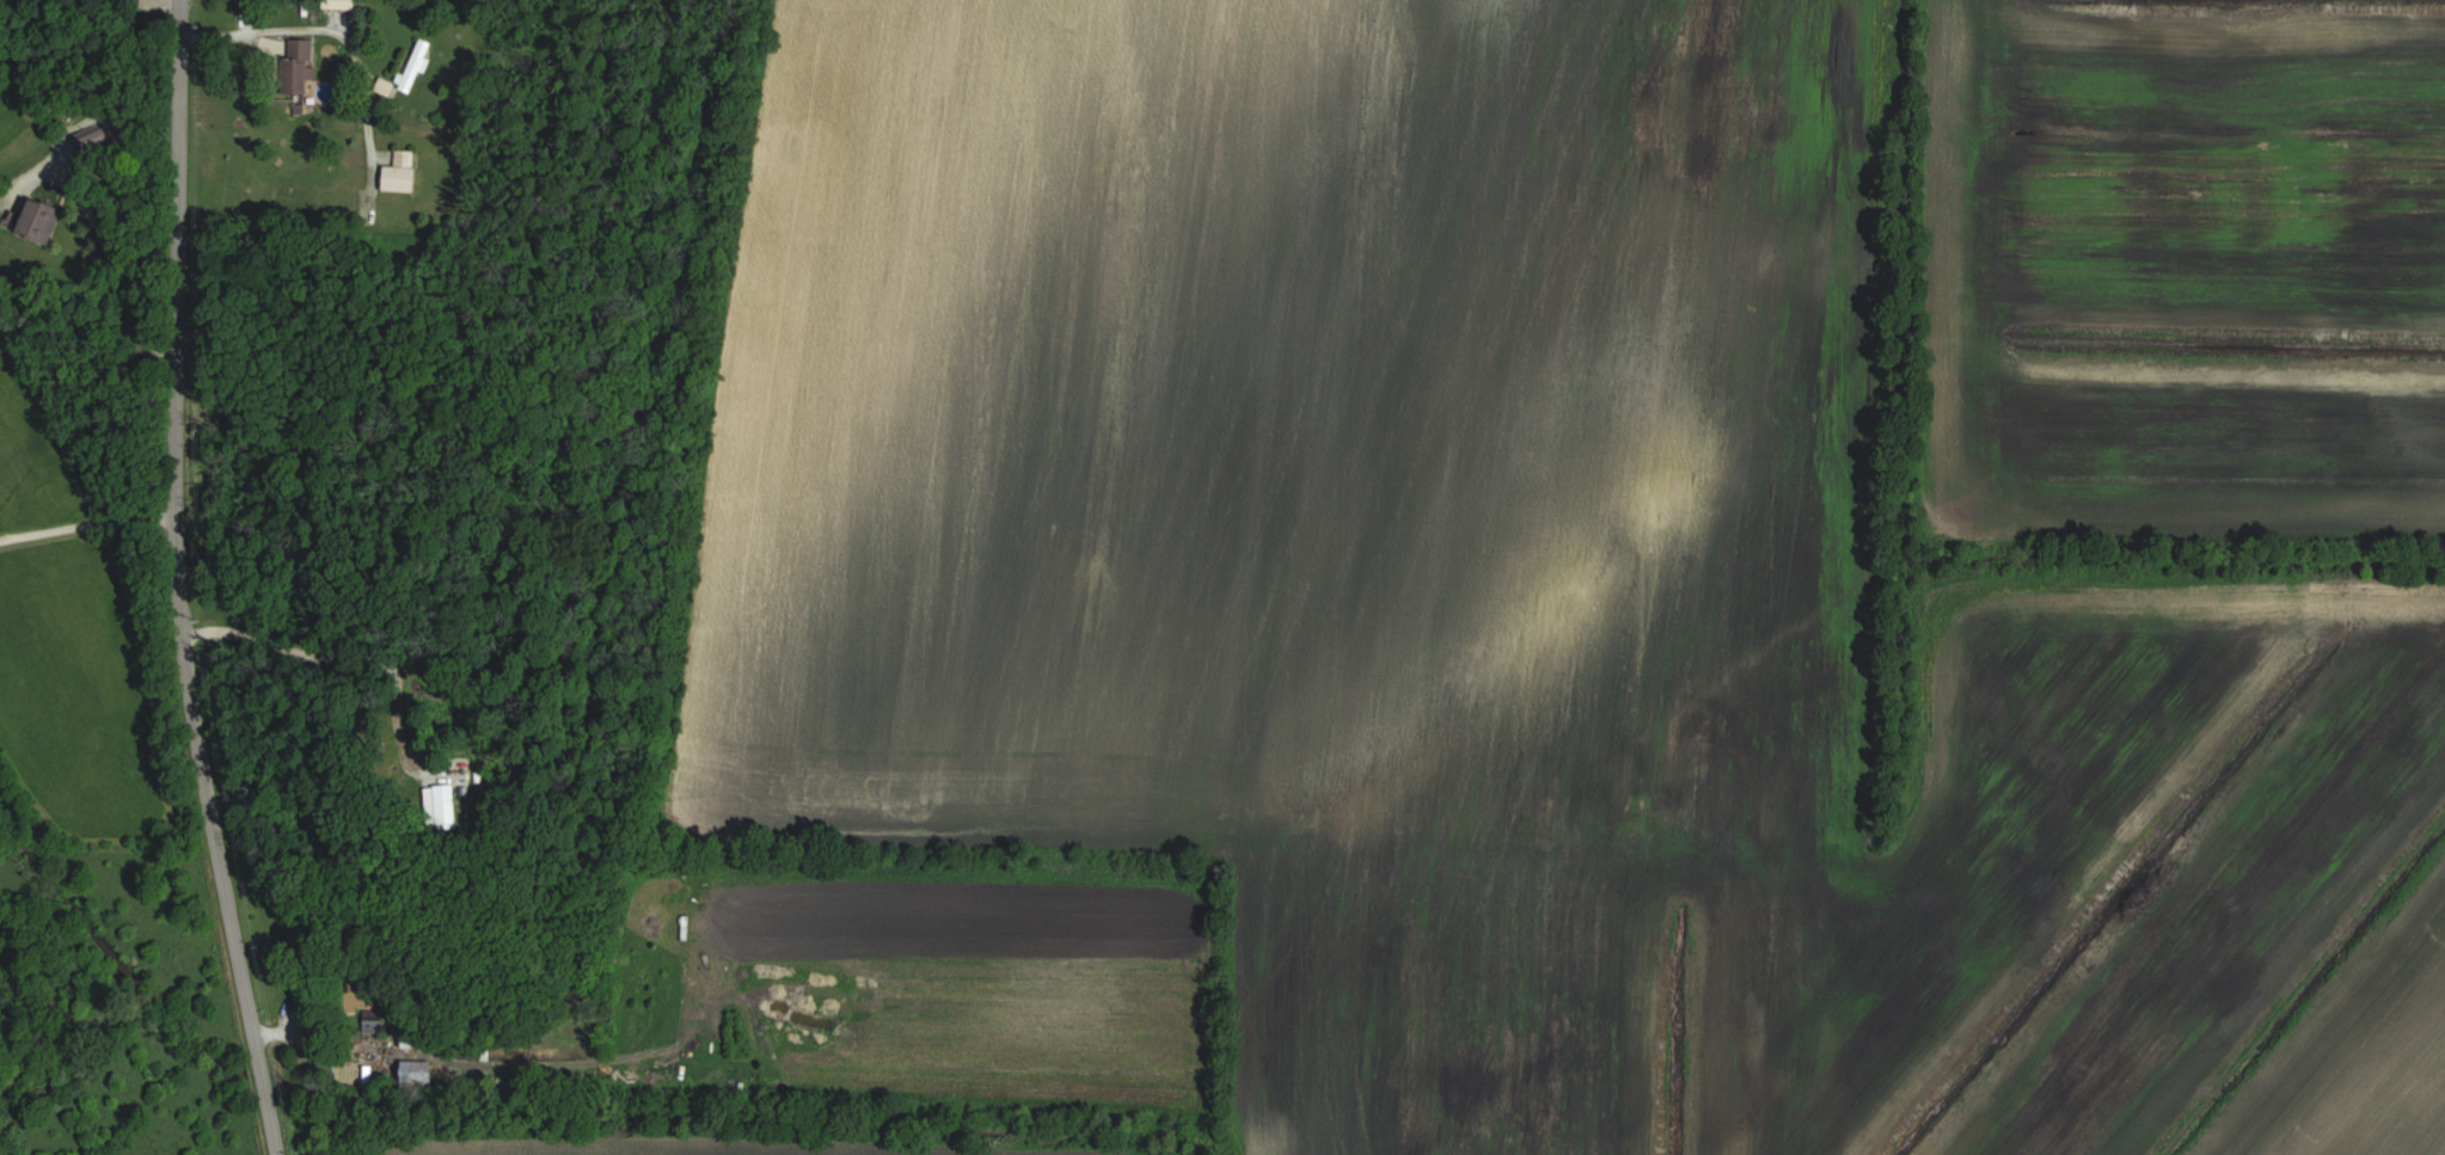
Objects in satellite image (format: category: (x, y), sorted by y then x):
building: (343, 5)
building: (304, 67)
building: (418, 67)
building: (93, 136)
building: (404, 173)
building: (44, 222)
road: (87, 524)
road: (177, 582)
building: (421, 1071)

